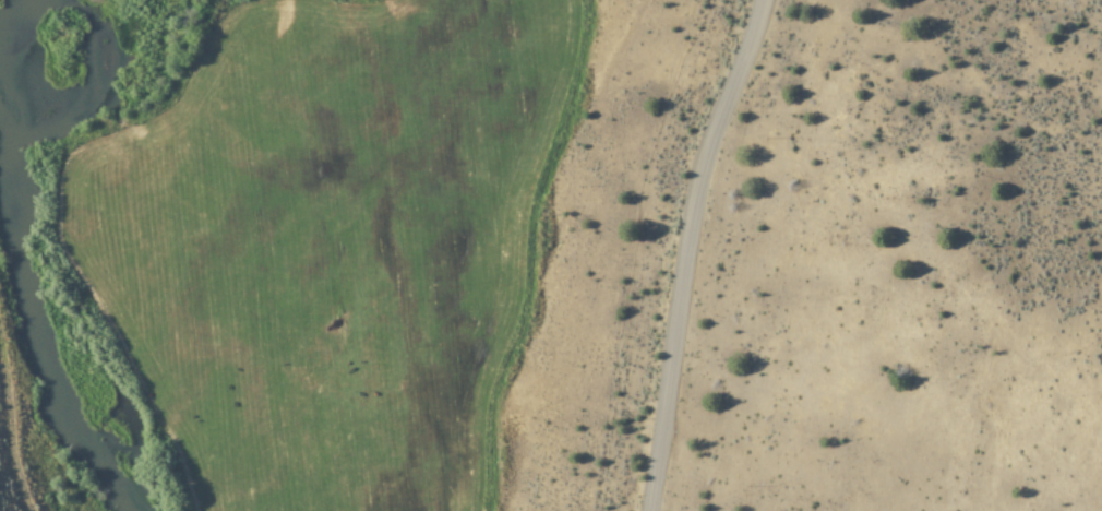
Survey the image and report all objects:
river: (0, 0)
river: (85, 67)
road: (694, 250)
river: (32, 310)

